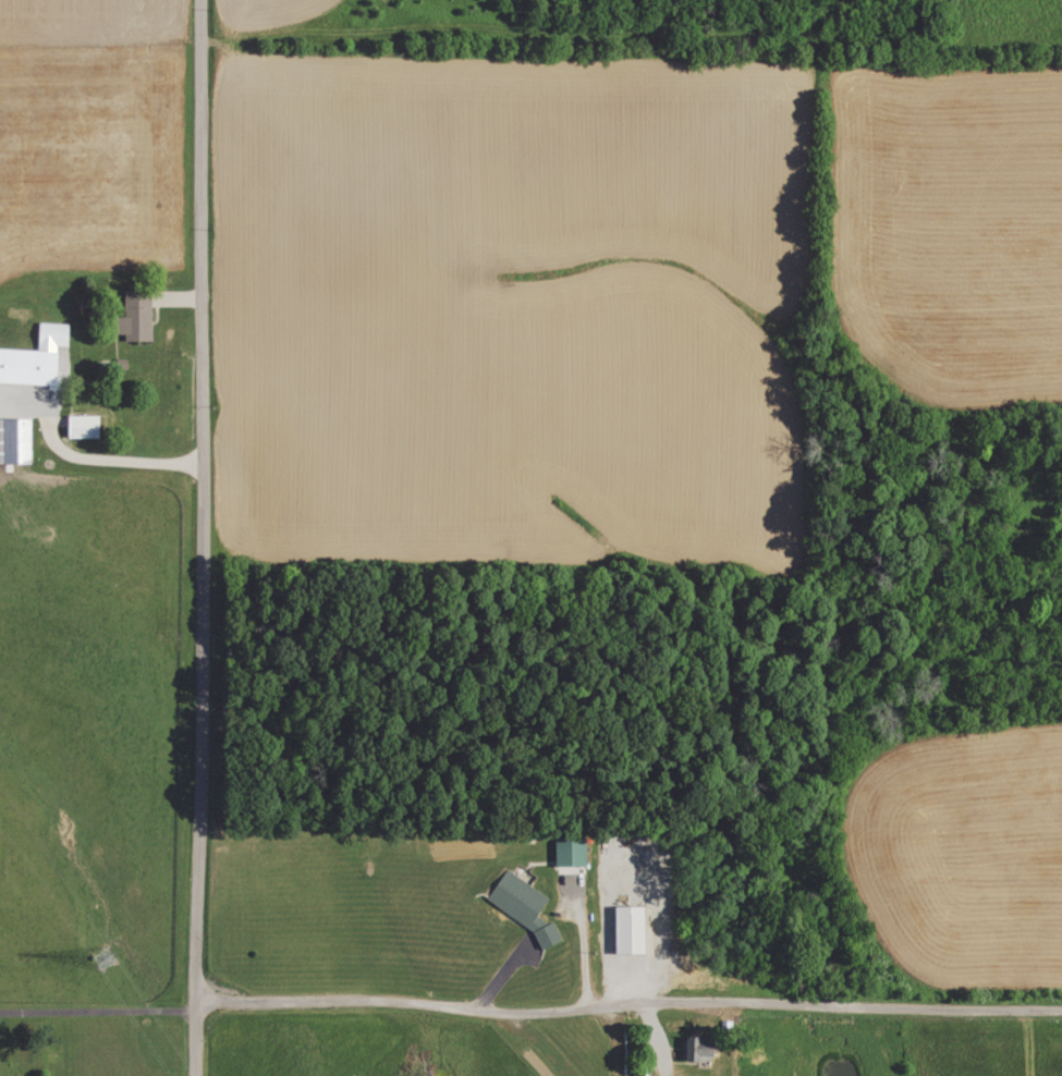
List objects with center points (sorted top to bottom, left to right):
building: (143, 315)
building: (39, 358)
building: (89, 426)
building: (20, 440)
road: (86, 462)
road: (202, 538)
building: (528, 906)
building: (634, 930)
power tower: (115, 958)
road: (625, 1005)
road: (96, 1012)
road: (654, 1040)
building: (703, 1049)

